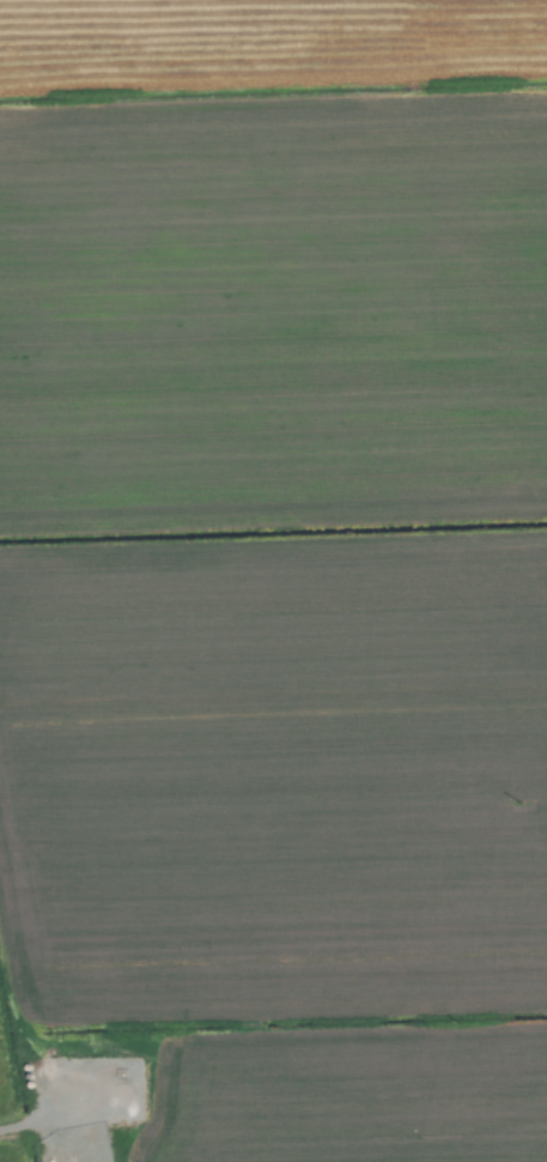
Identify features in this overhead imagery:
crop: (273, 581)

